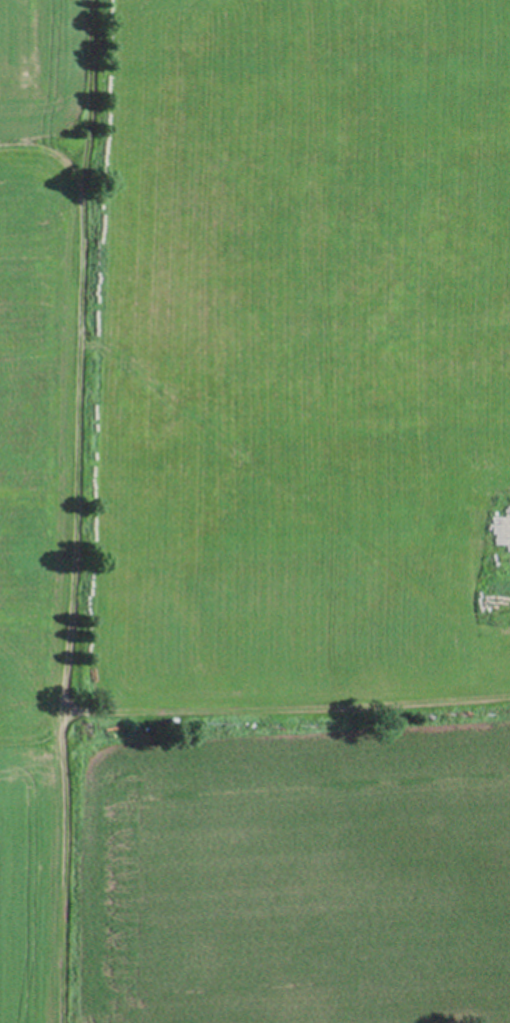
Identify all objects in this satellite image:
crop: (255, 511)

